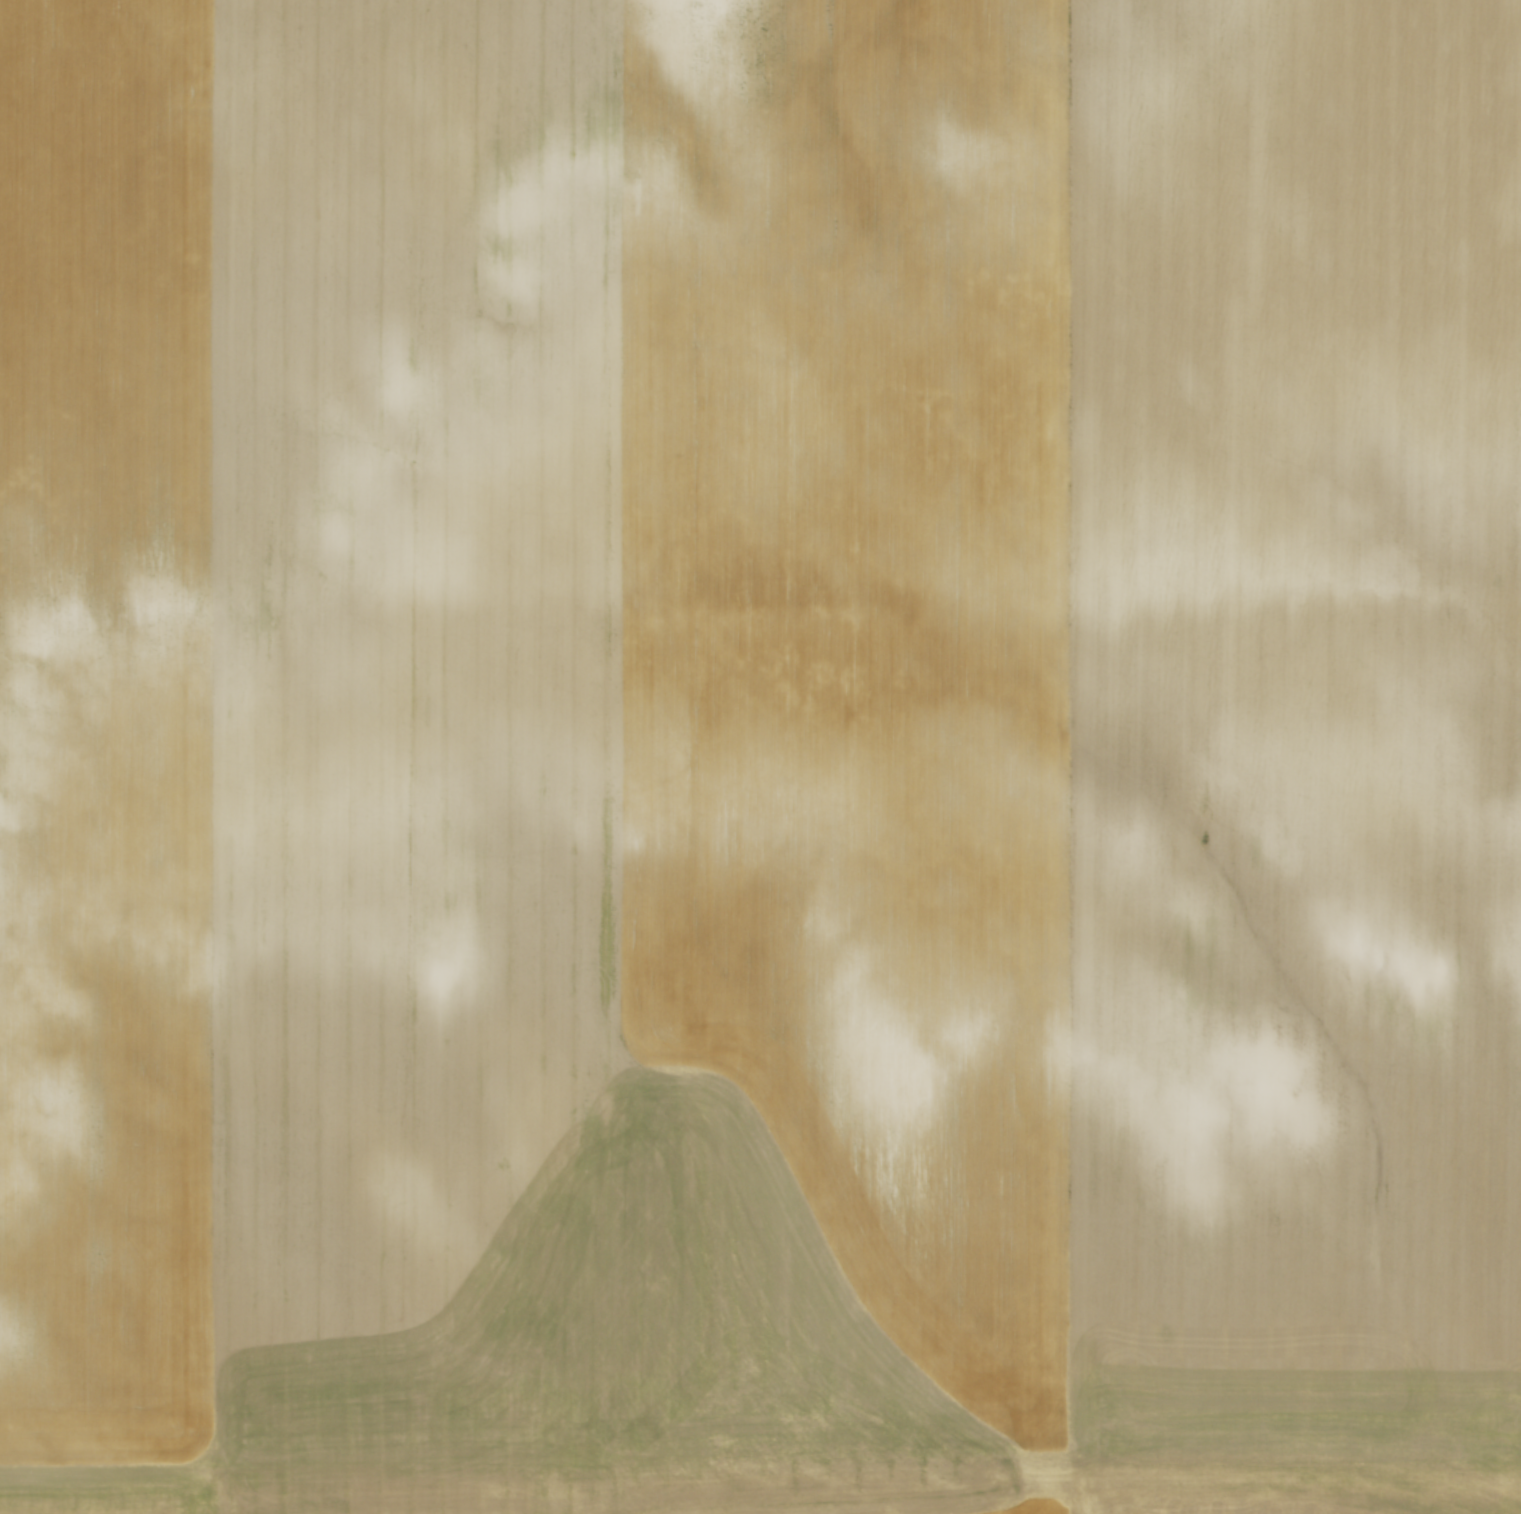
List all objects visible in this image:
crop: (760, 757)

